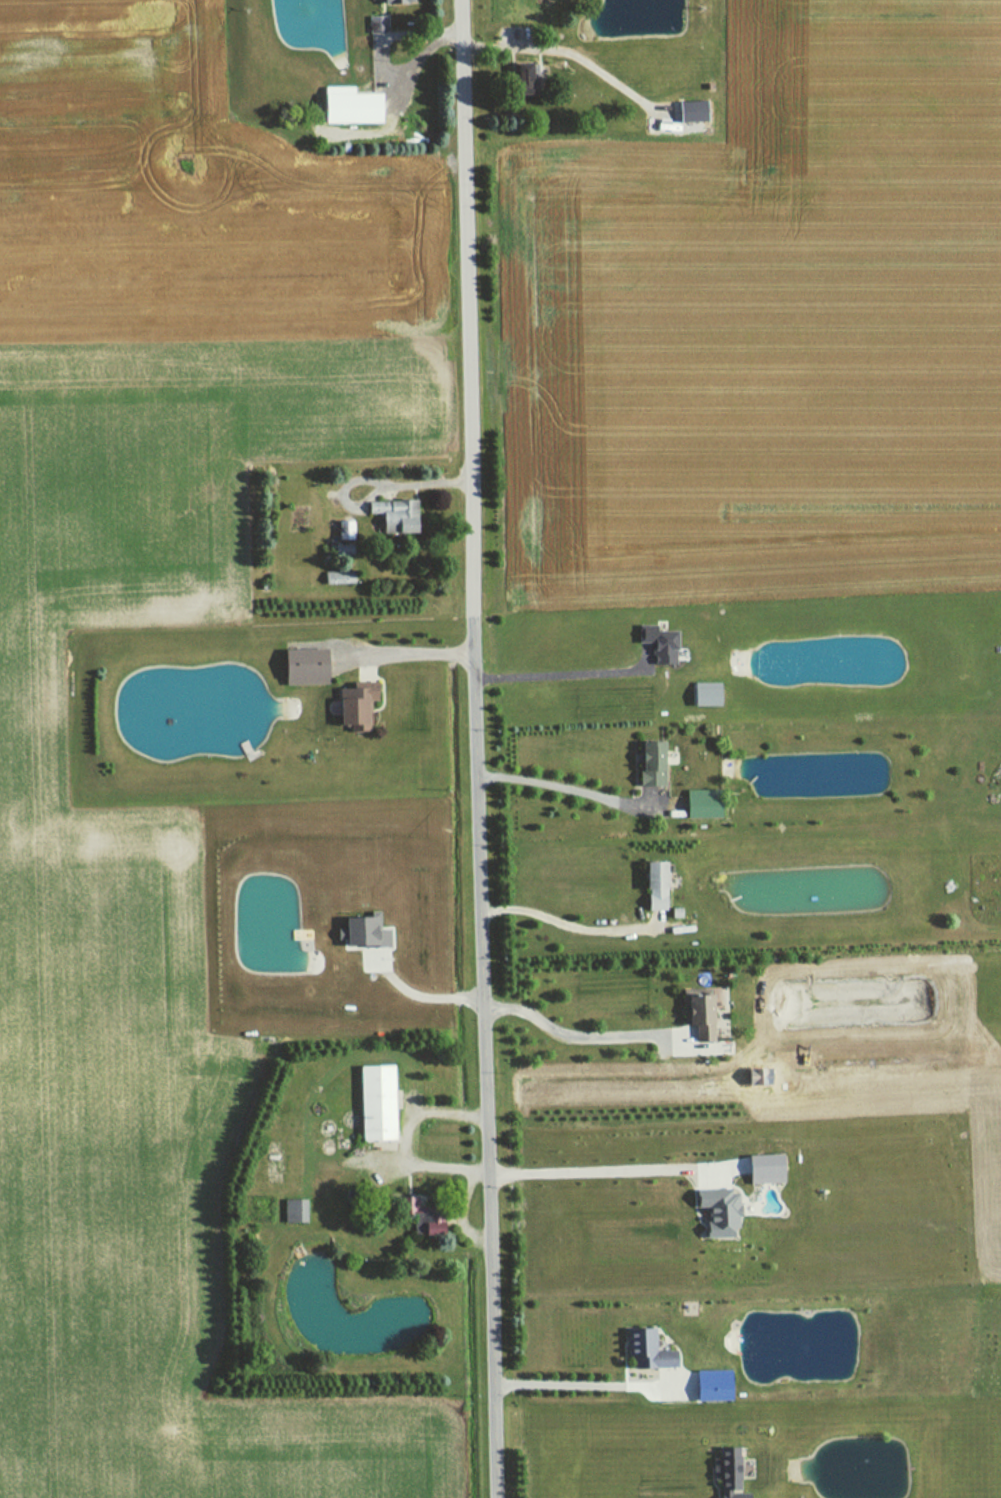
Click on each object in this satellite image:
building: (372, 24)
building: (344, 106)
road: (466, 307)
crop: (768, 320)
road: (375, 486)
building: (391, 515)
building: (653, 644)
road: (403, 654)
building: (298, 667)
road: (560, 674)
building: (699, 696)
building: (349, 706)
crop: (35, 722)
building: (645, 762)
road: (572, 791)
building: (695, 802)
building: (650, 884)
road: (566, 924)
building: (357, 930)
road: (419, 997)
building: (693, 1015)
road: (581, 1035)
road: (486, 1055)
building: (372, 1102)
road: (453, 1103)
road: (320, 1106)
road: (442, 1154)
building: (758, 1168)
road: (598, 1170)
crop: (996, 1193)
building: (404, 1204)
building: (289, 1210)
building: (712, 1211)
building: (426, 1225)
building: (645, 1351)
road: (589, 1384)
building: (707, 1385)
building: (723, 1472)

